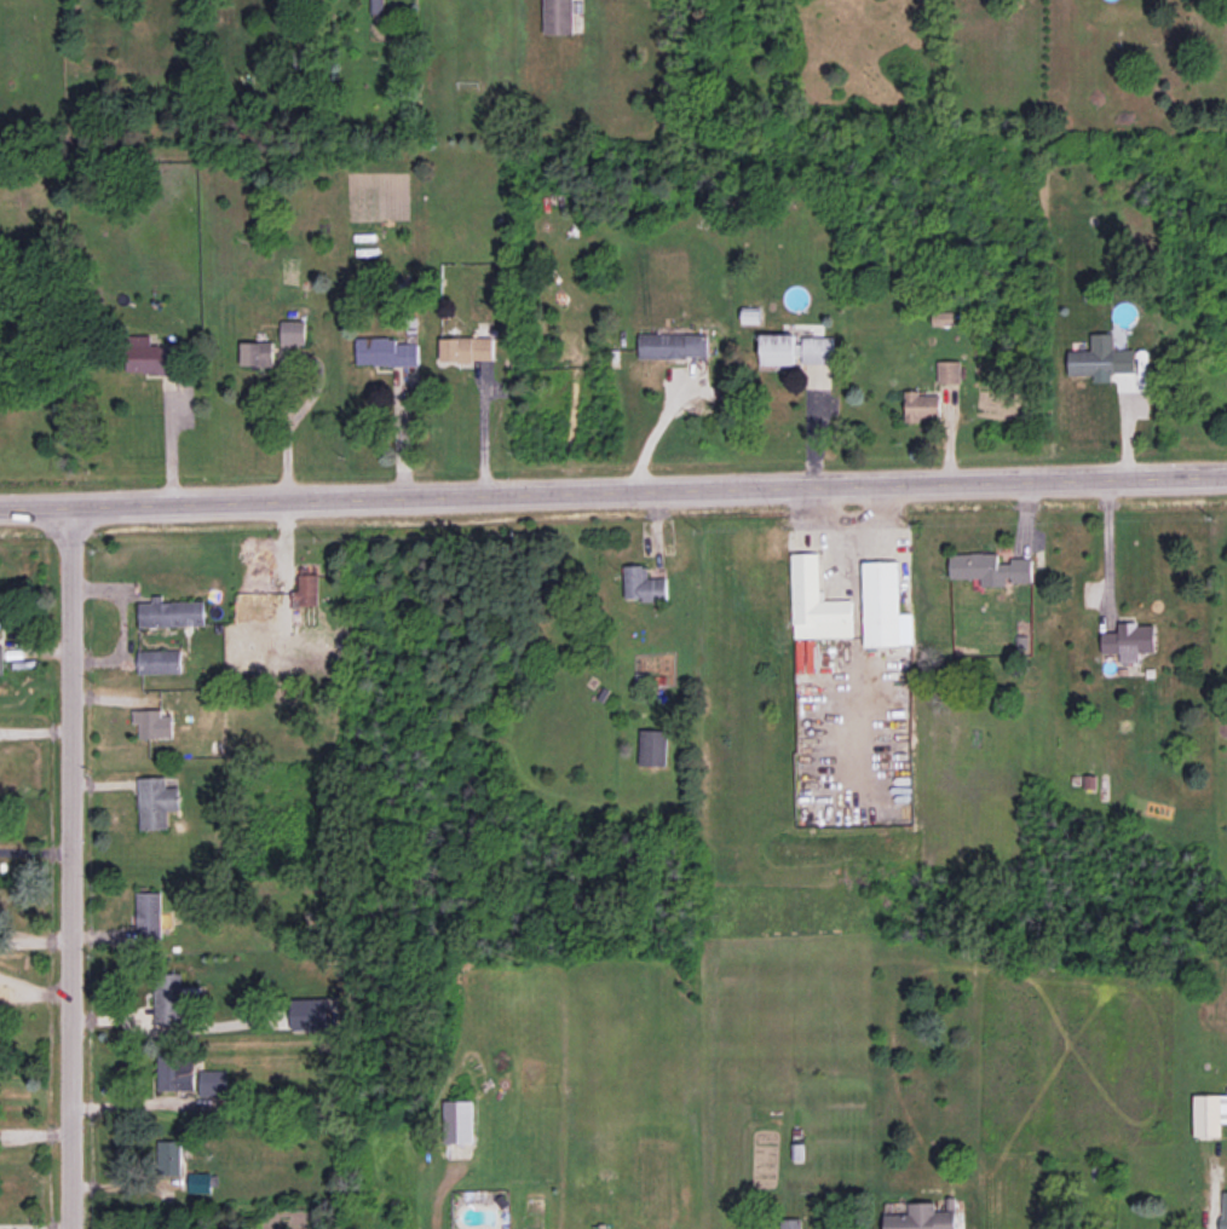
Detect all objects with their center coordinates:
building: (558, 16)
building: (941, 317)
building: (292, 331)
building: (673, 345)
building: (466, 348)
building: (795, 348)
building: (386, 352)
building: (257, 353)
building: (148, 356)
building: (1100, 358)
building: (949, 371)
building: (921, 406)
road: (655, 426)
road: (288, 432)
road: (612, 487)
road: (842, 526)
road: (1104, 547)
building: (990, 569)
building: (641, 584)
building: (305, 587)
building: (816, 602)
building: (883, 606)
building: (171, 612)
road: (122, 622)
building: (1130, 640)
building: (0, 659)
building: (159, 660)
building: (152, 723)
building: (652, 746)
building: (156, 802)
road: (73, 866)
building: (150, 916)
road: (34, 993)
building: (168, 996)
building: (310, 1012)
building: (175, 1072)
building: (213, 1081)
building: (1209, 1114)
building: (457, 1120)
building: (168, 1156)
building: (200, 1182)
building: (1225, 1210)
building: (921, 1217)
building: (791, 1223)
road: (1208, 1228)

